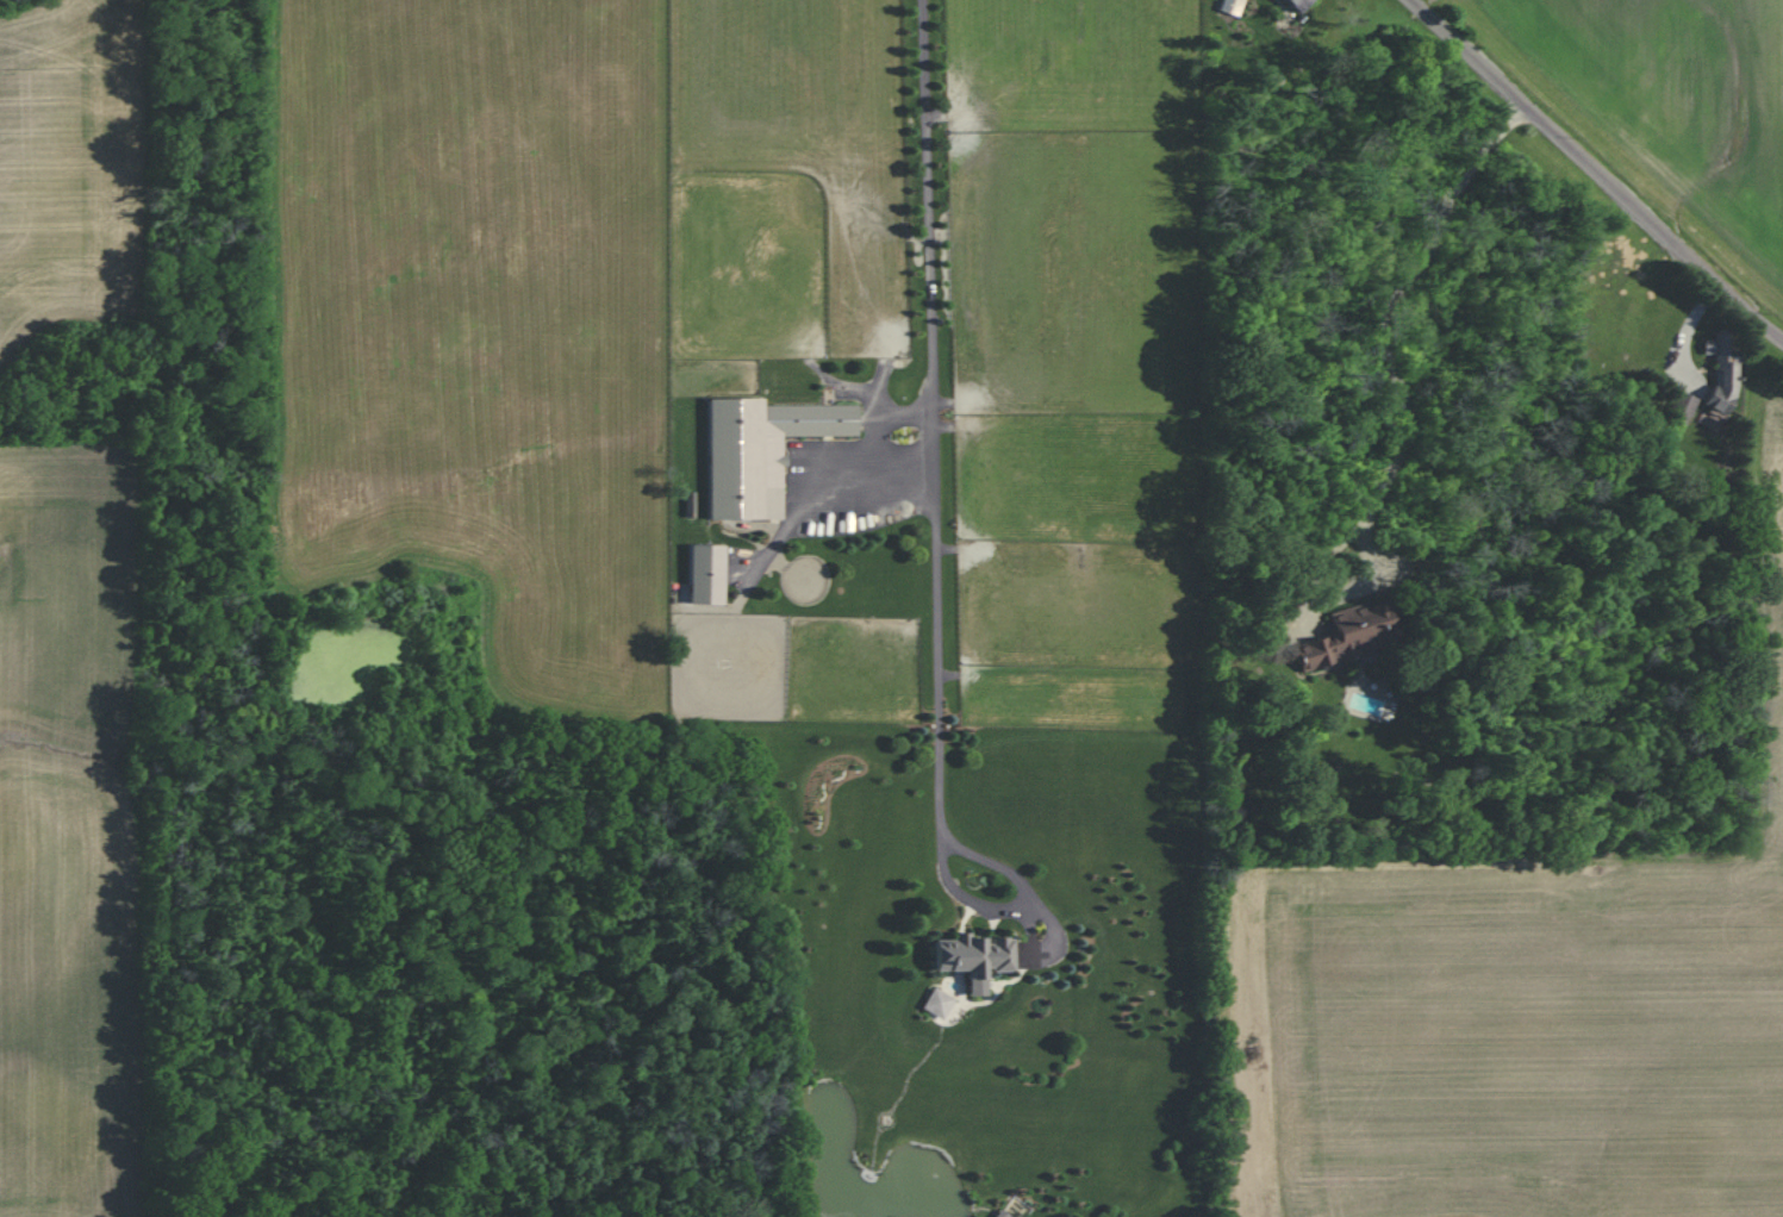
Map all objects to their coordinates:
building: (1297, 4)
building: (1230, 6)
road: (1598, 169)
building: (1722, 372)
road: (1404, 394)
building: (1682, 406)
road: (934, 423)
building: (760, 450)
building: (706, 573)
building: (1353, 632)
building: (974, 956)
building: (937, 1003)

